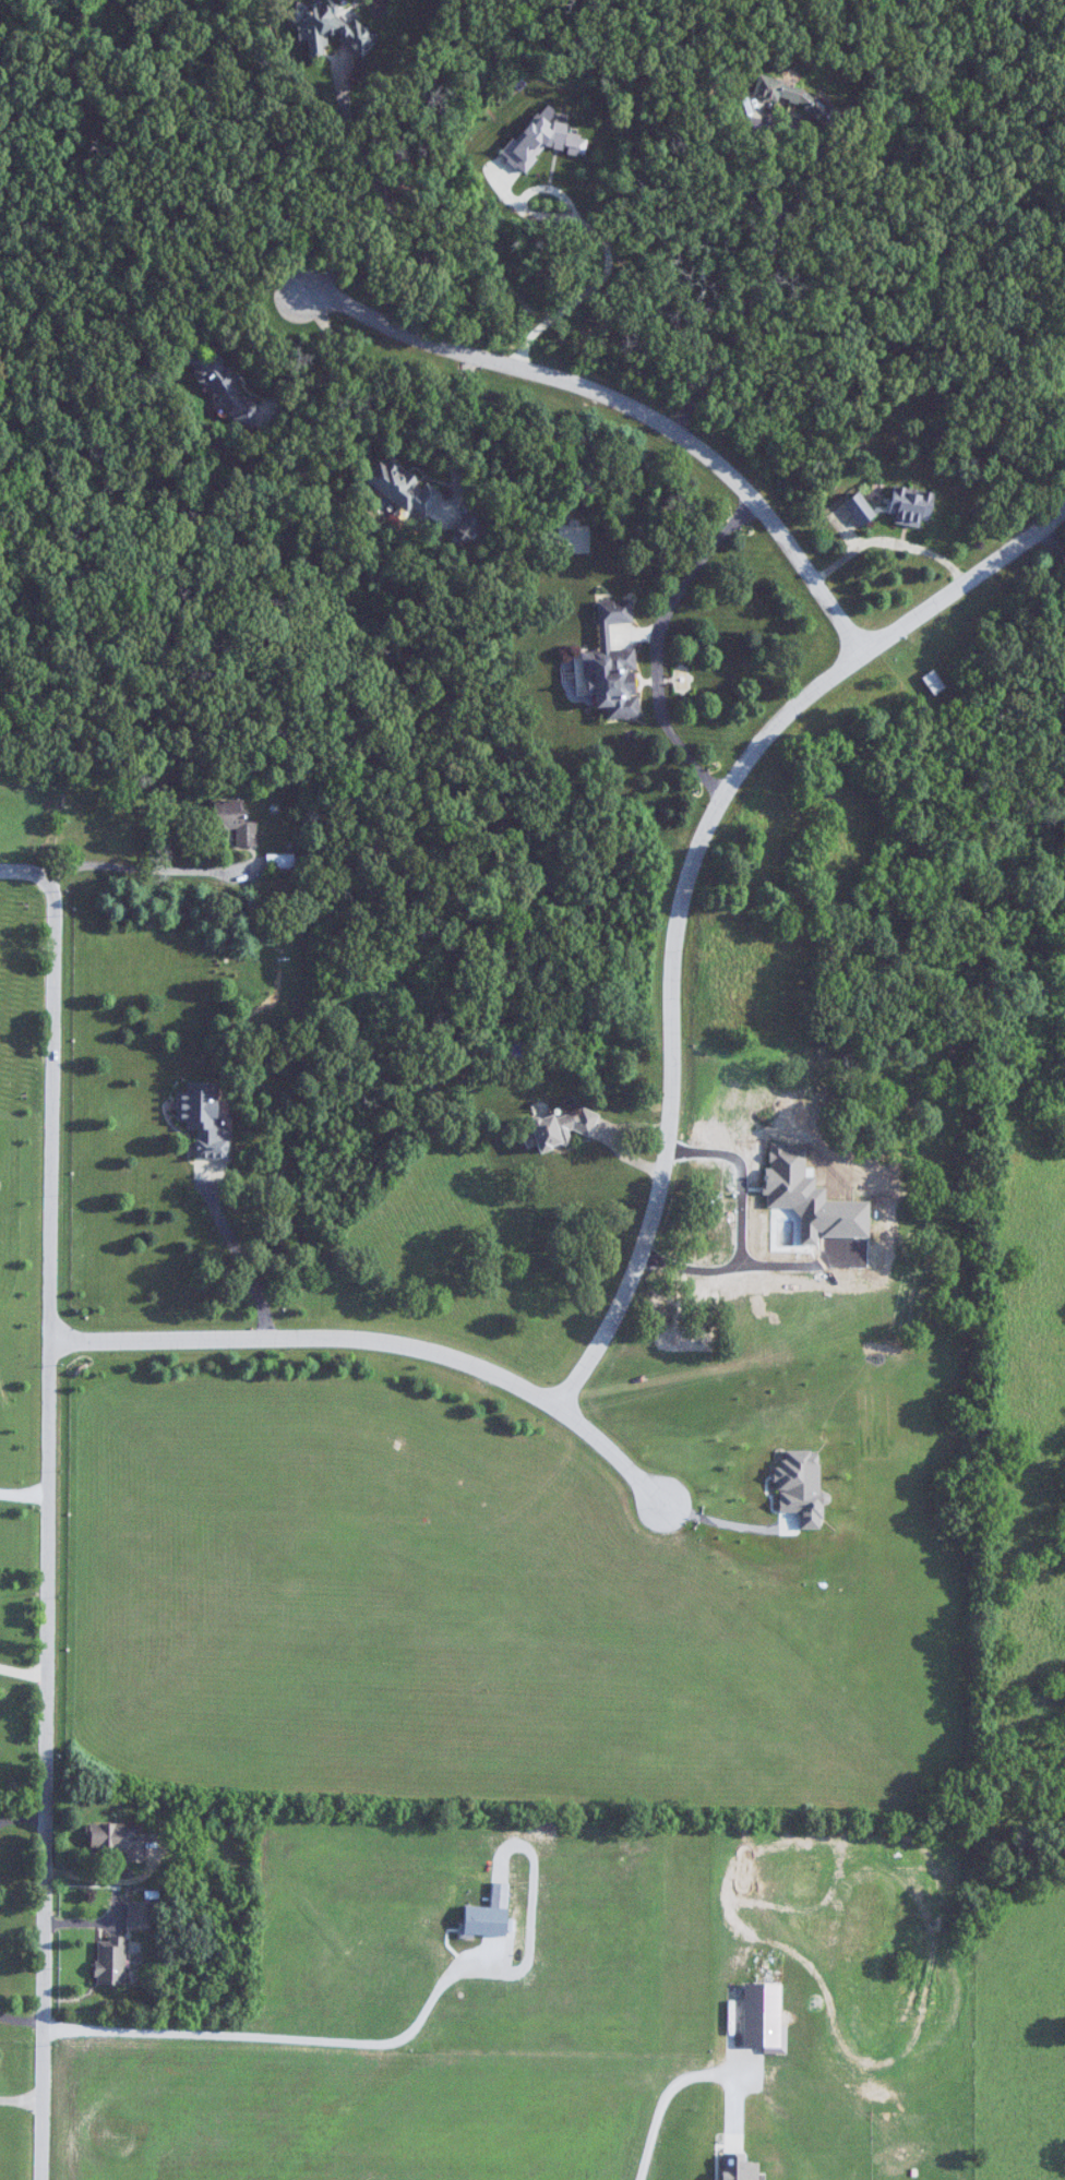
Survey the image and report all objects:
building: (333, 31)
road: (789, 196)
road: (387, 201)
road: (594, 236)
road: (325, 361)
building: (225, 386)
road: (627, 404)
road: (428, 423)
building: (405, 488)
building: (912, 506)
building: (860, 508)
road: (1054, 541)
road: (655, 640)
building: (612, 664)
building: (934, 682)
building: (94, 813)
building: (234, 821)
building: (279, 860)
road: (27, 873)
road: (210, 874)
road: (685, 884)
building: (203, 1118)
building: (561, 1128)
road: (618, 1138)
road: (237, 1255)
road: (381, 1340)
road: (723, 1522)
road: (46, 1526)
road: (21, 1816)
building: (119, 1840)
building: (137, 1916)
building: (111, 1961)
road: (20, 2019)
road: (278, 2036)
road: (20, 2098)
road: (659, 2101)

